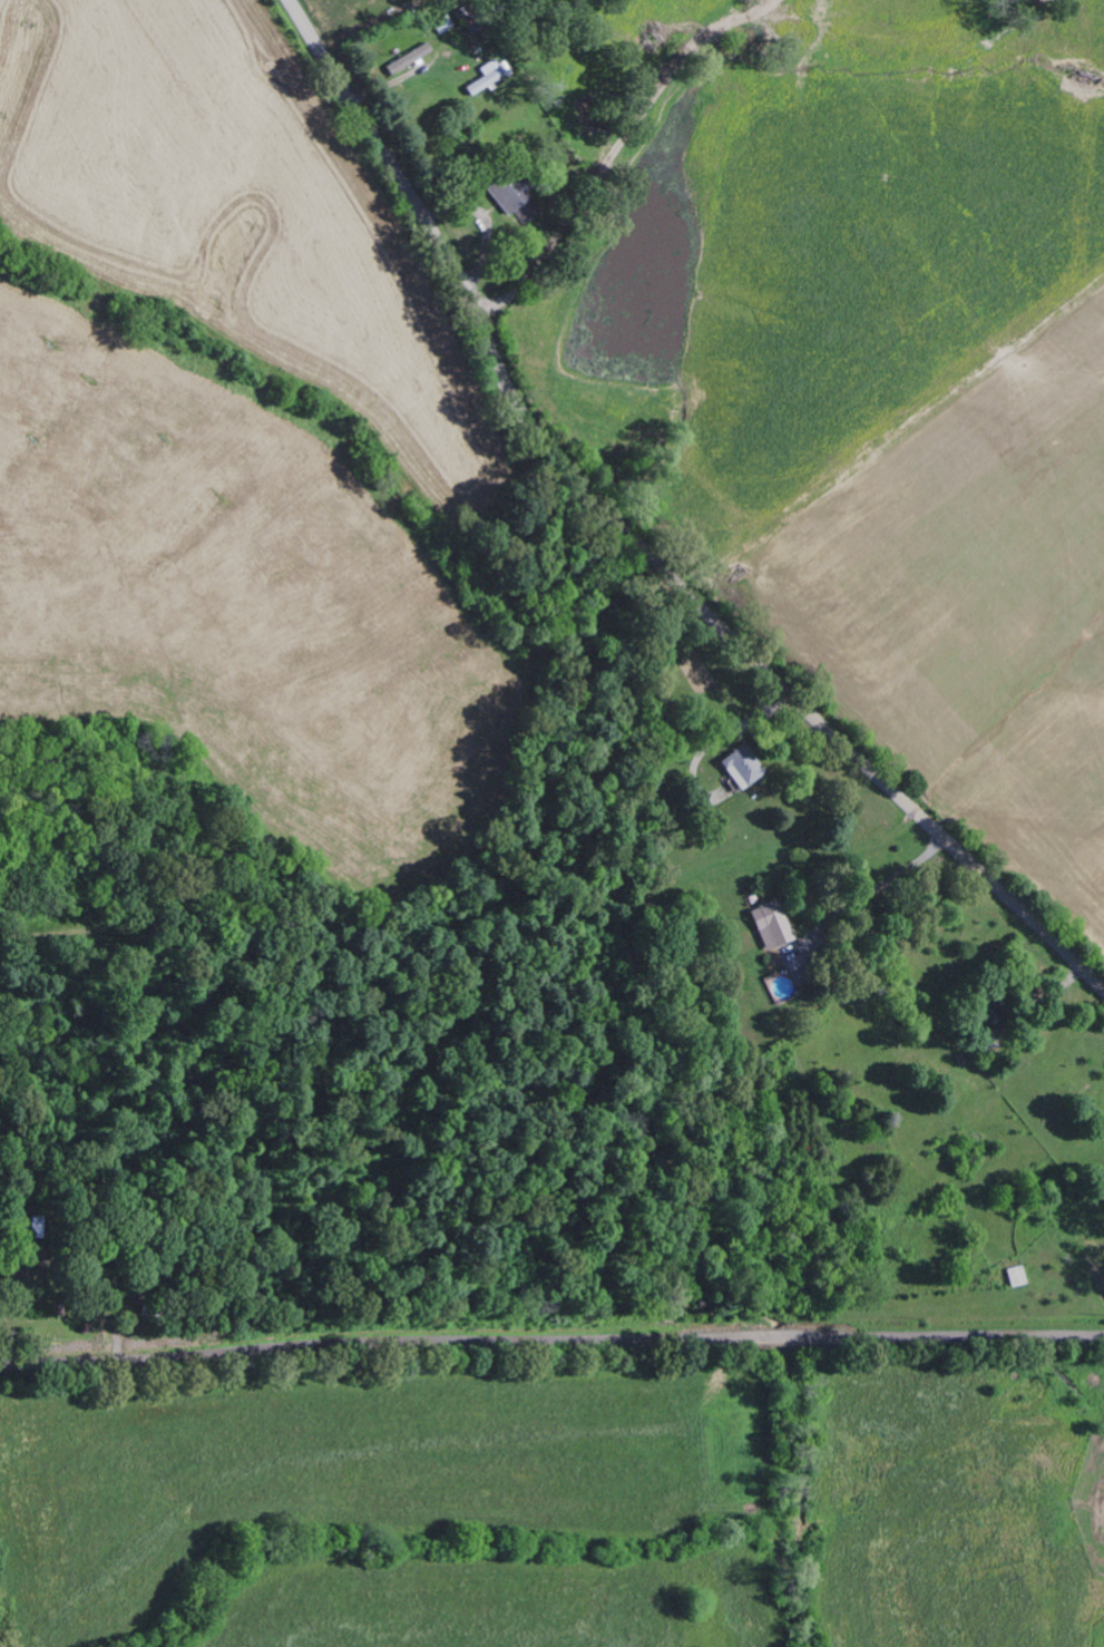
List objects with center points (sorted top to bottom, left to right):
building: (407, 60)
building: (481, 82)
road: (570, 131)
building: (505, 193)
road: (637, 540)
building: (740, 768)
building: (769, 926)
building: (38, 1227)
road: (551, 1343)

